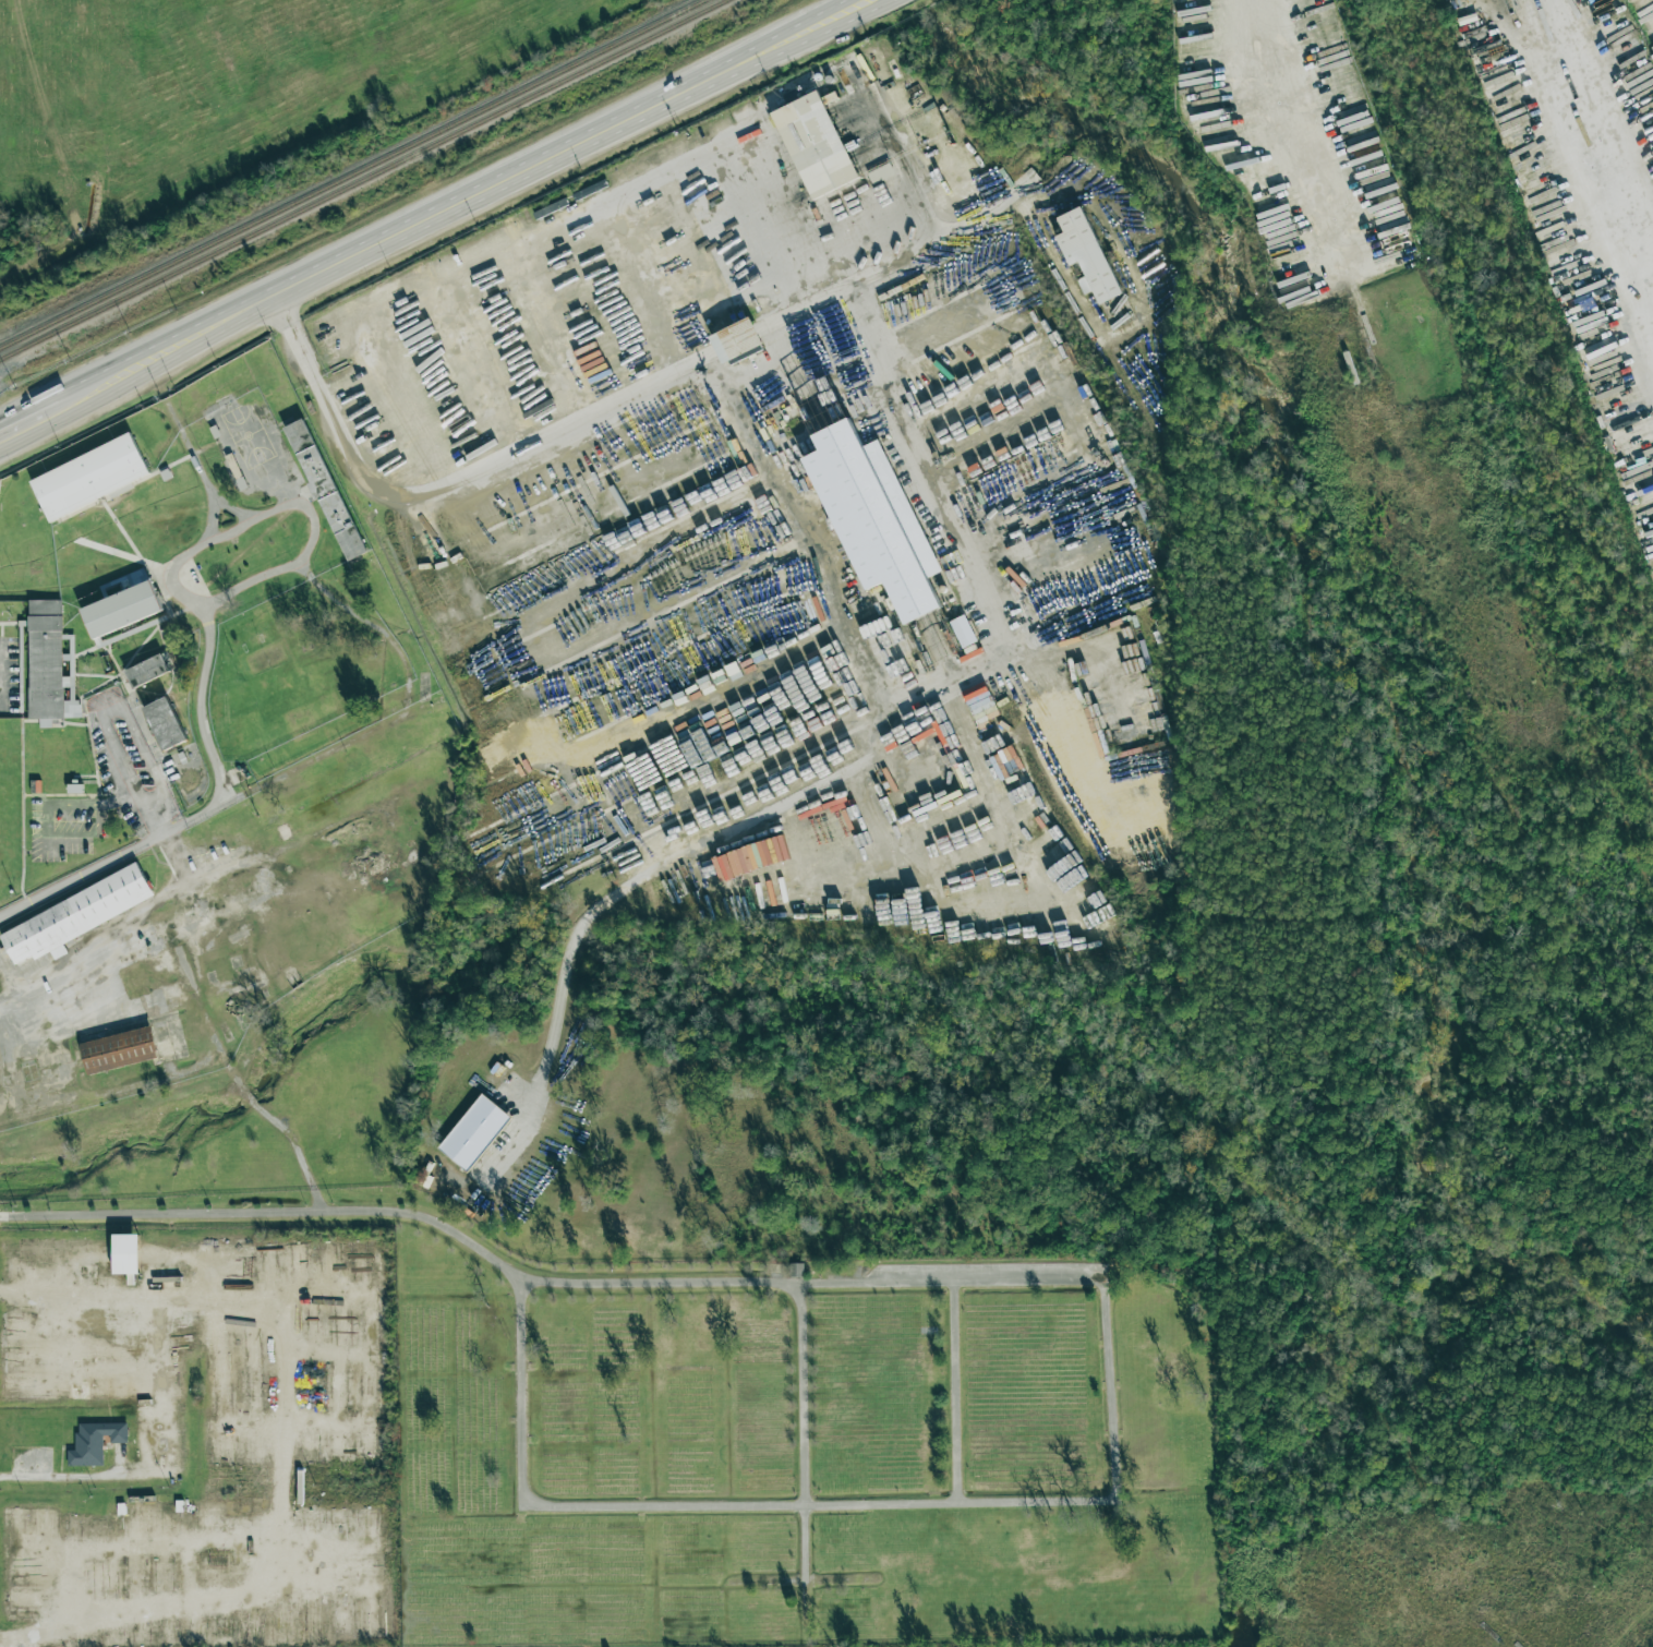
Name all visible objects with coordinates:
road: (886, 130)
road: (1308, 130)
building: (816, 145)
road: (1600, 157)
railway: (351, 175)
railway: (362, 181)
road: (466, 201)
building: (1087, 255)
road: (862, 284)
road: (1156, 291)
road: (303, 332)
building: (737, 341)
road: (891, 386)
road: (616, 414)
road: (32, 419)
building: (299, 435)
road: (191, 450)
building: (89, 477)
building: (331, 503)
road: (215, 516)
building: (874, 518)
road: (209, 542)
road: (225, 599)
building: (123, 605)
building: (964, 630)
building: (49, 666)
building: (148, 670)
road: (0, 672)
road: (867, 674)
road: (108, 709)
building: (165, 723)
road: (213, 757)
road: (148, 765)
road: (301, 772)
road: (126, 777)
road: (225, 790)
road: (729, 834)
building: (76, 913)
road: (111, 953)
road: (2, 1010)
building: (119, 1048)
building: (474, 1131)
road: (293, 1145)
building: (125, 1253)
road: (600, 1286)
road: (142, 1305)
road: (806, 1426)
building: (95, 1442)
road: (1115, 1442)
park: (803, 1453)
road: (156, 1463)
road: (1039, 1494)
road: (743, 1512)
building: (212, 1513)
road: (263, 1582)

